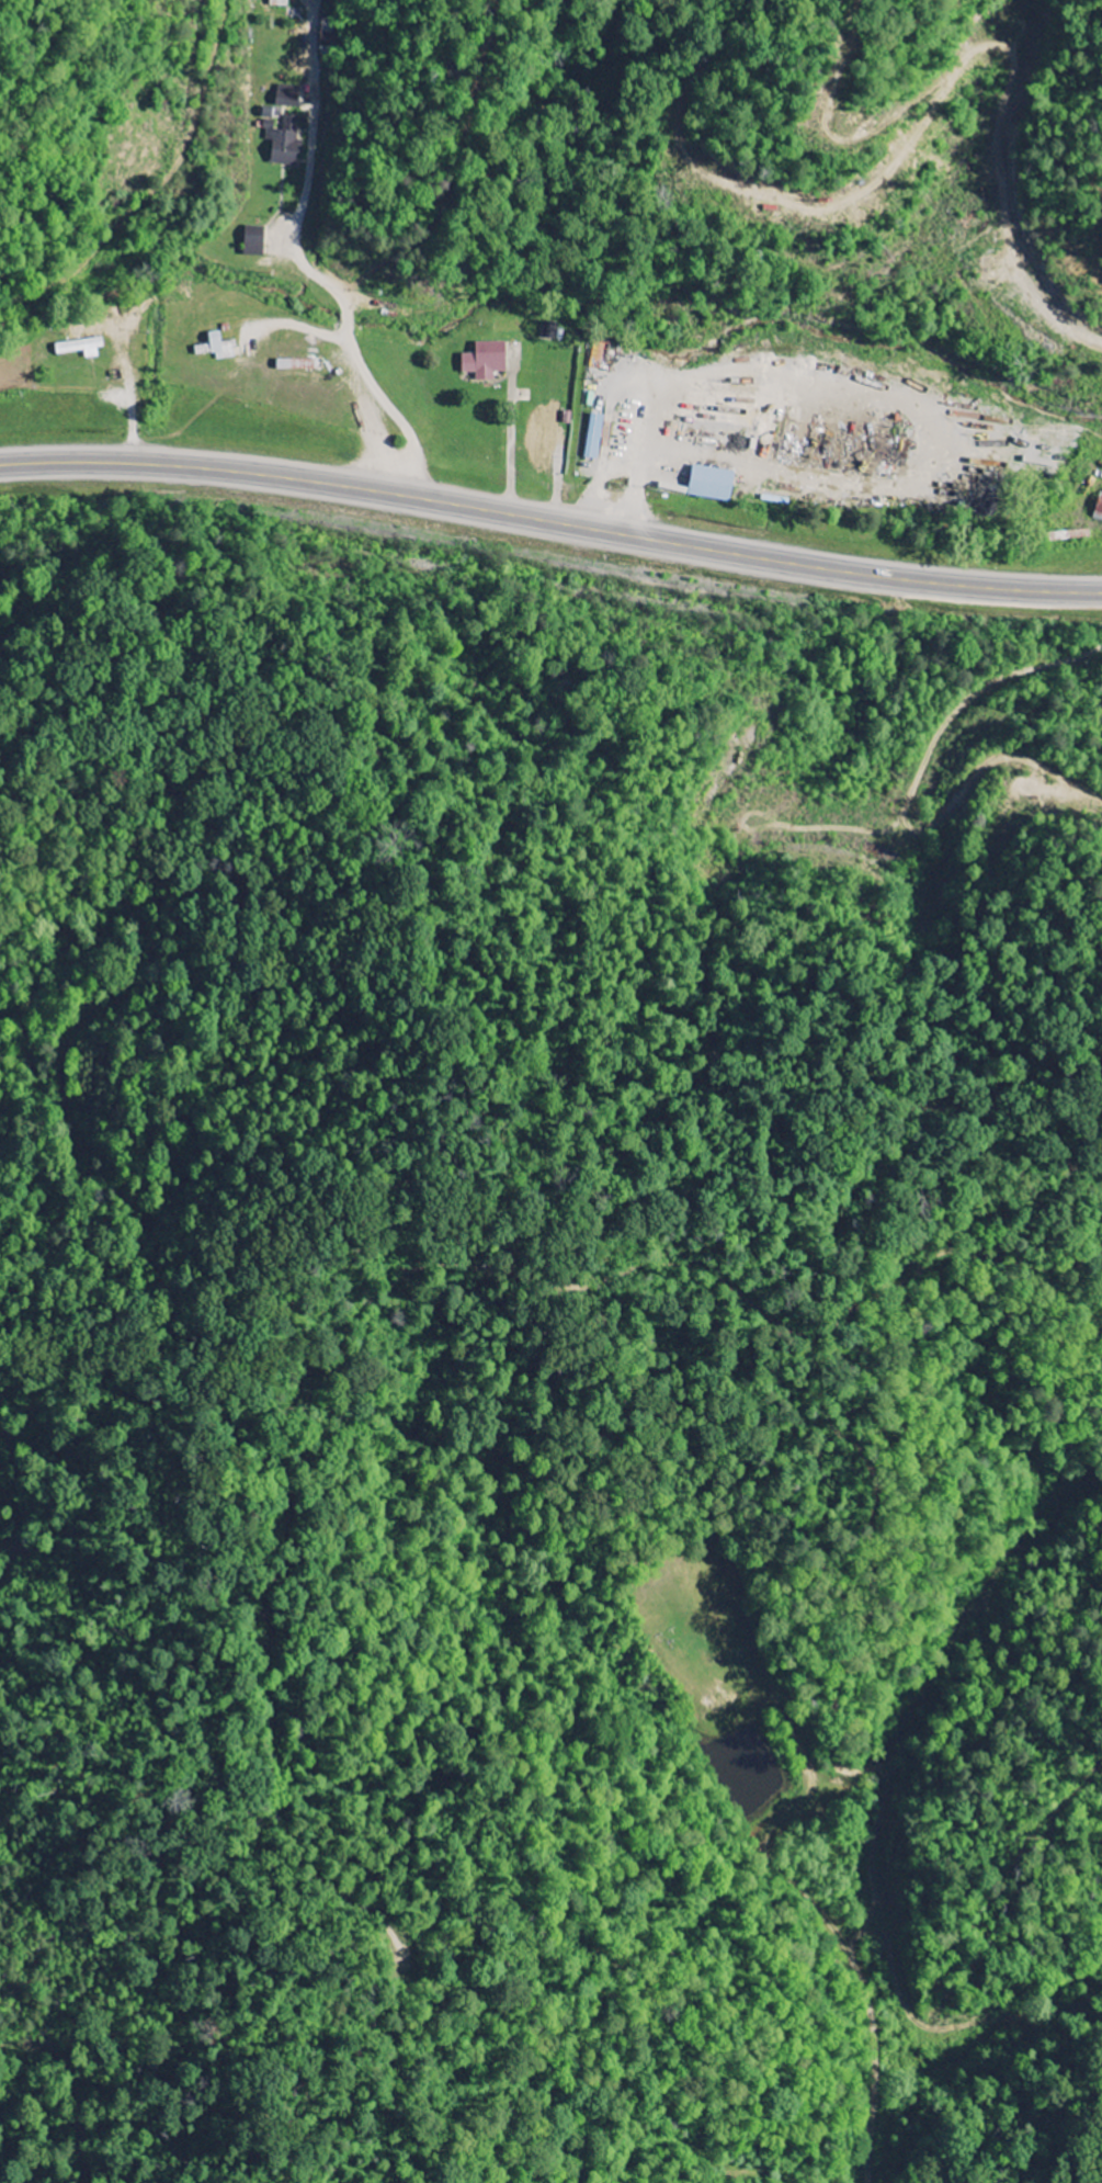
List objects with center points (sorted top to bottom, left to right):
building: (279, 3)
building: (287, 97)
building: (284, 143)
building: (253, 241)
road: (308, 263)
building: (217, 348)
building: (81, 349)
building: (485, 362)
building: (594, 438)
building: (711, 485)
building: (1099, 511)
road: (550, 521)

